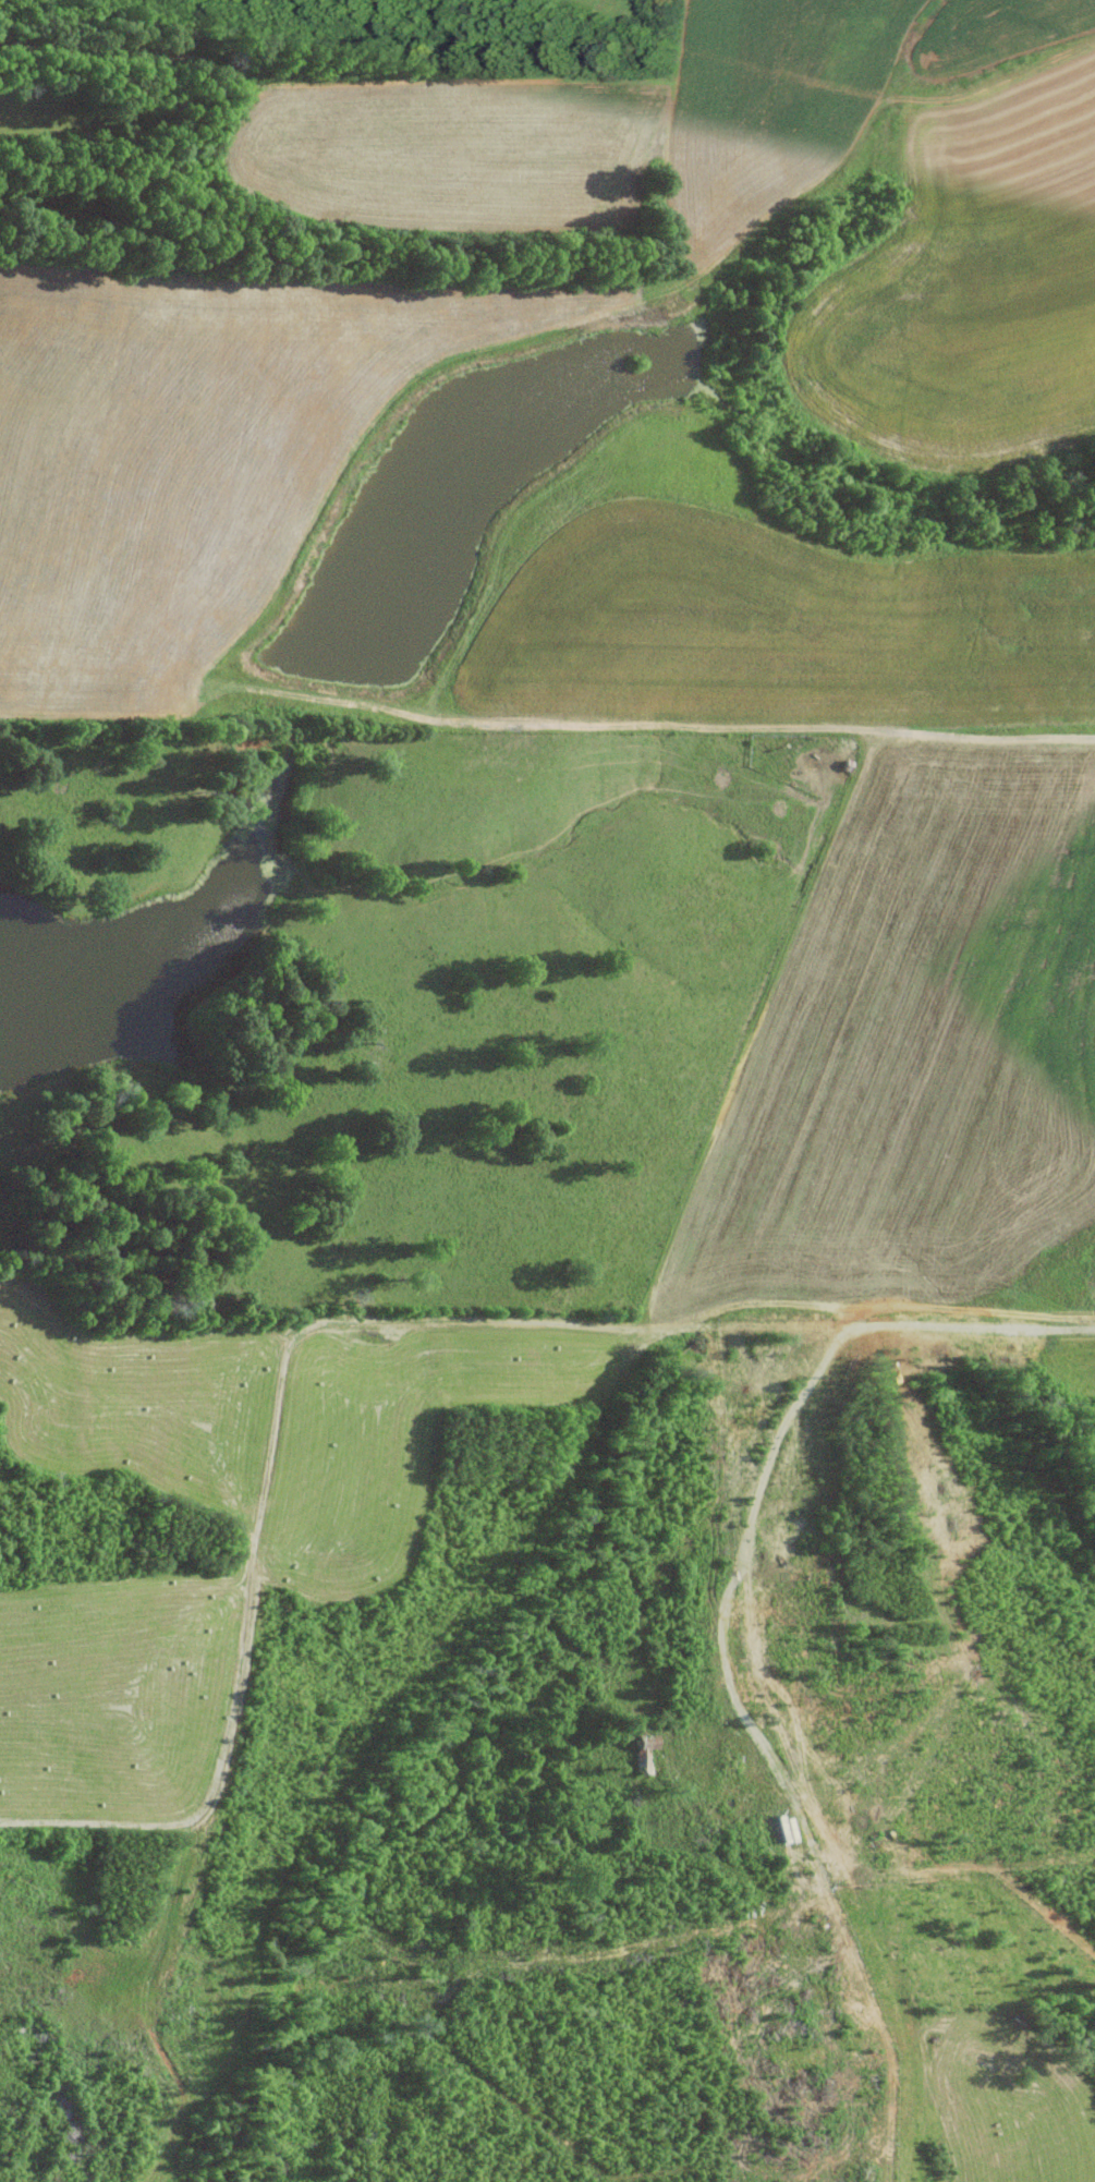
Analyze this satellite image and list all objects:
road: (745, 1422)

